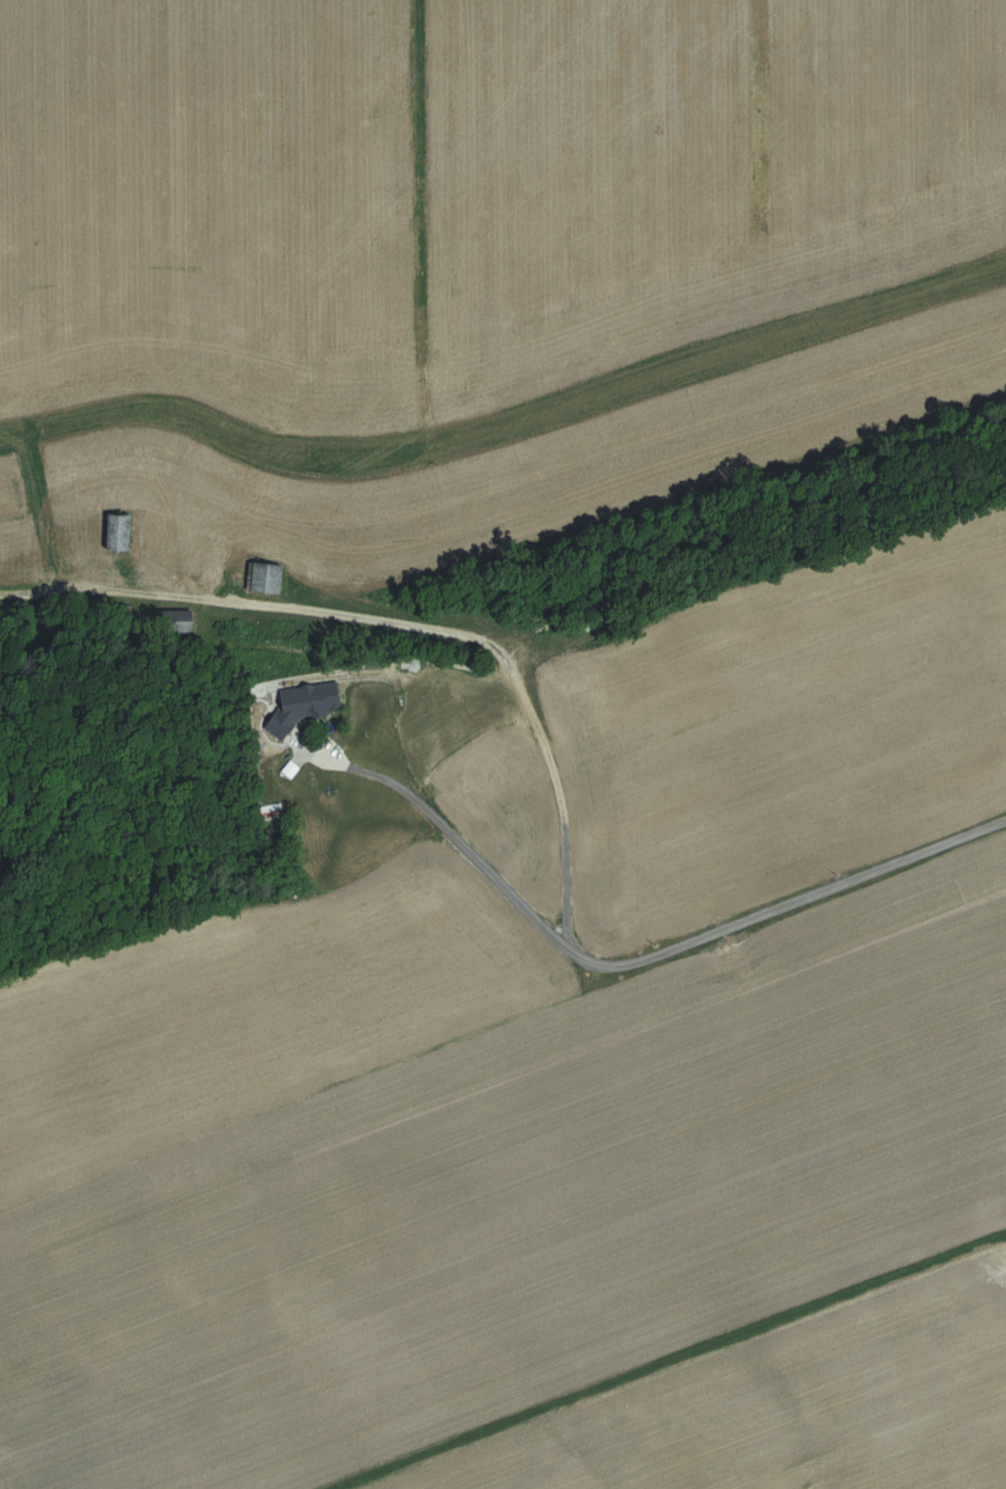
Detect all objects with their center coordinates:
crop: (465, 189)
building: (121, 533)
building: (267, 577)
building: (286, 694)
building: (339, 777)
road: (562, 786)
road: (453, 846)

